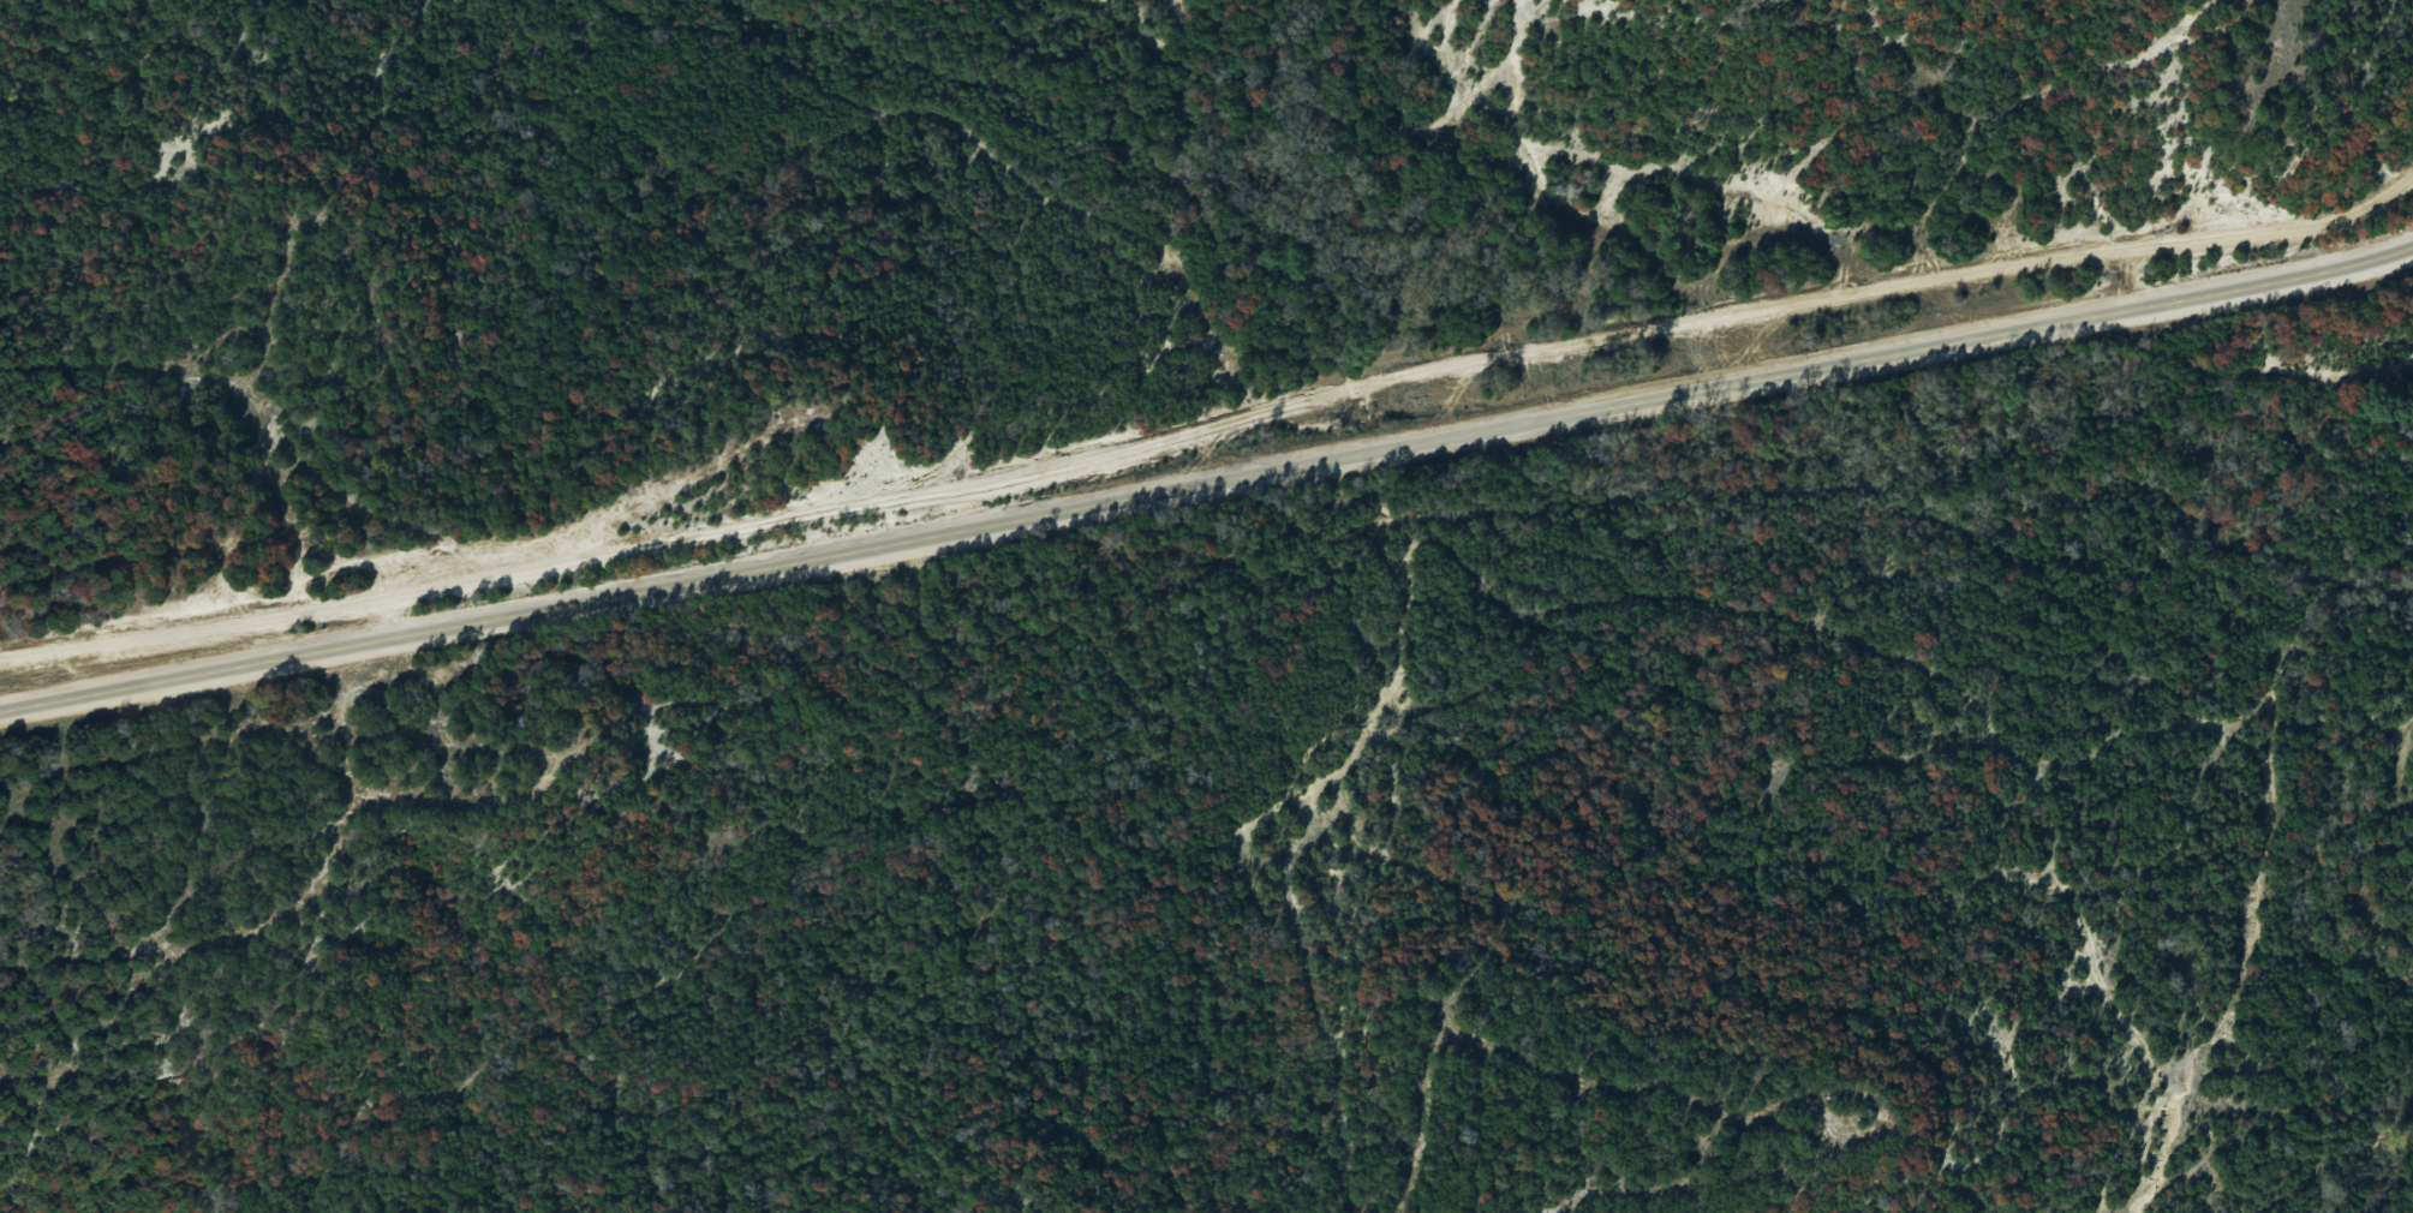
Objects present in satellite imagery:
road: (1211, 426)
road: (1207, 479)

